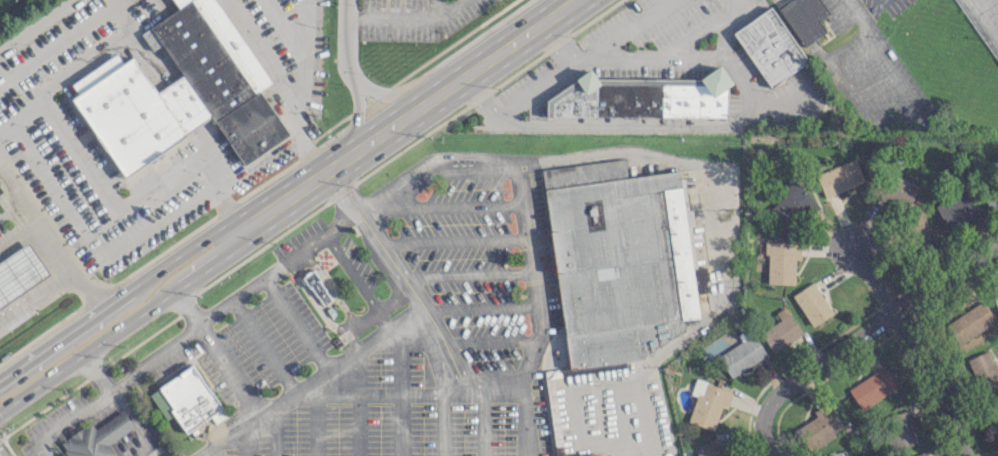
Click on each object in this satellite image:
road: (734, 1)
road: (968, 5)
road: (436, 6)
building: (805, 18)
road: (402, 19)
road: (38, 24)
road: (285, 27)
road: (342, 41)
road: (59, 42)
road: (557, 42)
building: (769, 44)
road: (501, 49)
road: (658, 53)
road: (697, 53)
road: (882, 55)
road: (90, 57)
road: (581, 57)
road: (305, 63)
road: (281, 83)
building: (180, 90)
road: (391, 94)
building: (642, 97)
road: (357, 116)
road: (669, 122)
road: (391, 126)
road: (665, 156)
building: (839, 177)
road: (297, 190)
building: (897, 192)
building: (991, 201)
road: (116, 203)
building: (792, 203)
road: (451, 207)
building: (958, 208)
building: (919, 232)
road: (20, 233)
road: (49, 235)
road: (453, 240)
building: (618, 257)
building: (781, 261)
road: (276, 268)
building: (19, 272)
road: (467, 272)
building: (316, 285)
road: (36, 293)
road: (118, 297)
building: (995, 300)
building: (812, 304)
road: (478, 307)
building: (968, 322)
road: (126, 324)
road: (874, 327)
building: (781, 330)
road: (482, 341)
road: (913, 345)
building: (741, 354)
road: (151, 357)
road: (340, 364)
building: (984, 371)
building: (871, 387)
road: (496, 388)
building: (188, 395)
road: (248, 398)
building: (707, 403)
building: (996, 411)
road: (134, 417)
road: (66, 422)
road: (523, 422)
building: (819, 426)
building: (900, 429)
building: (96, 436)
road: (764, 437)
building: (710, 448)
building: (582, 454)
building: (918, 454)

